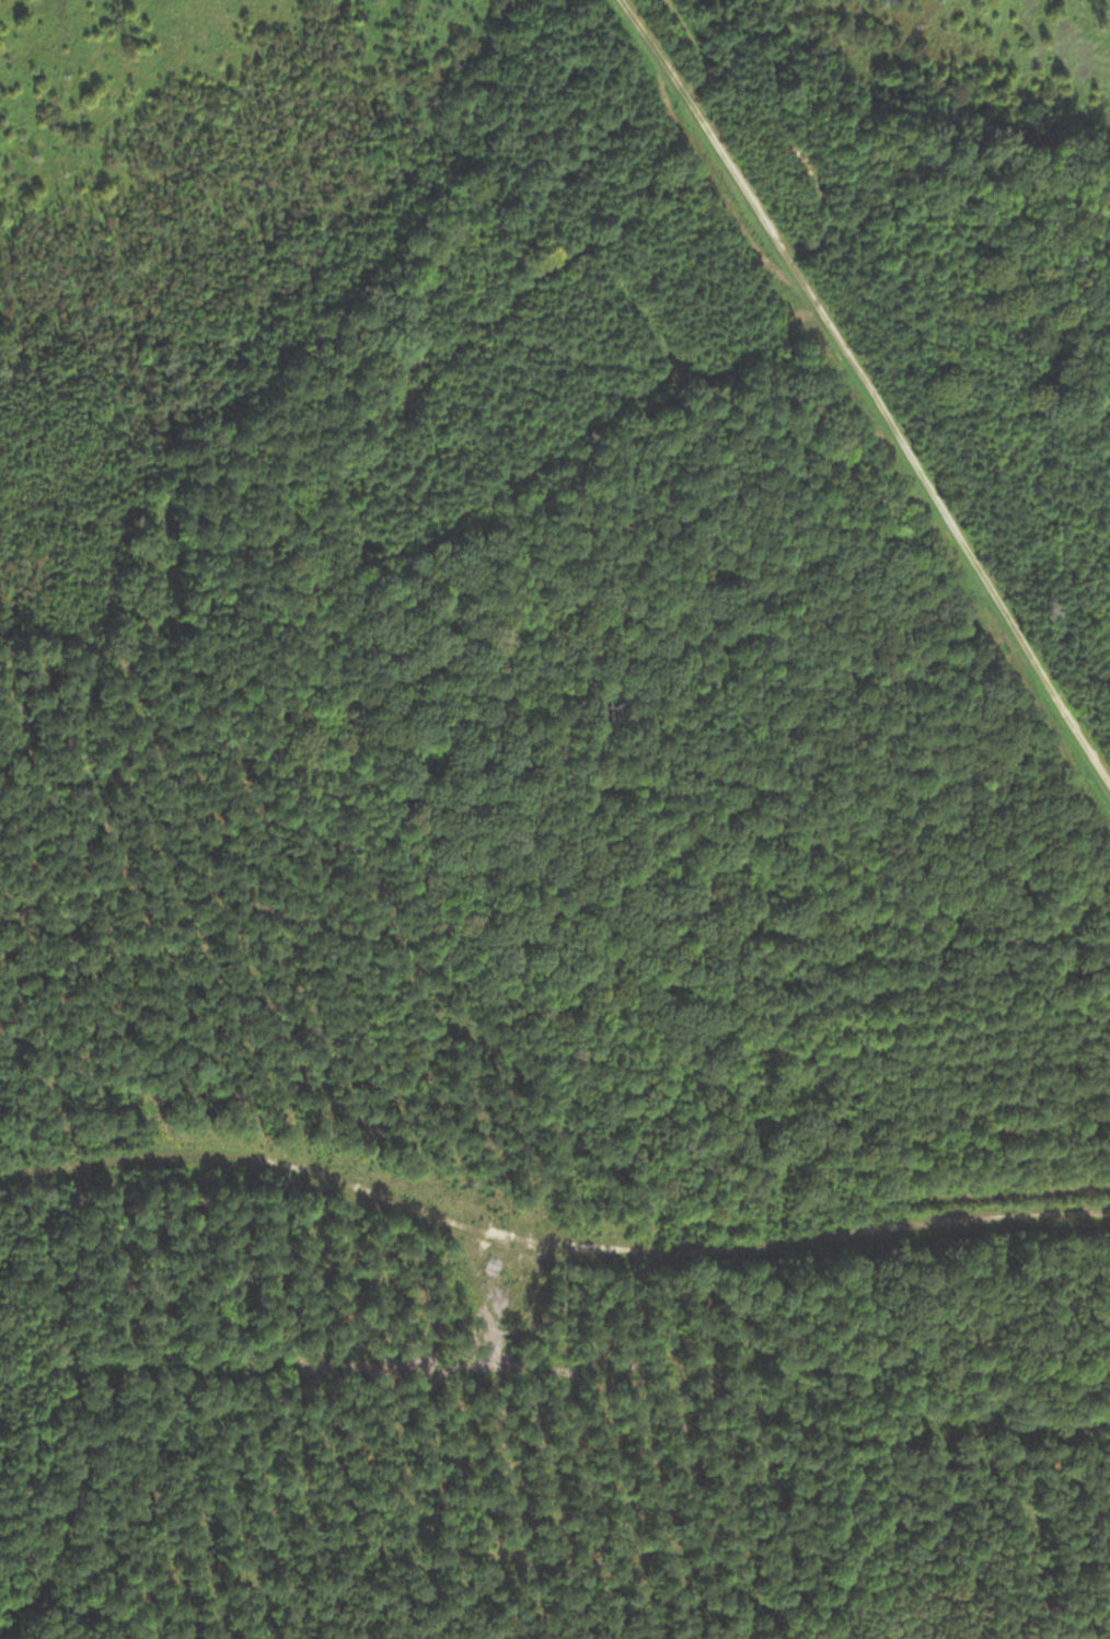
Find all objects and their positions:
road: (867, 393)

